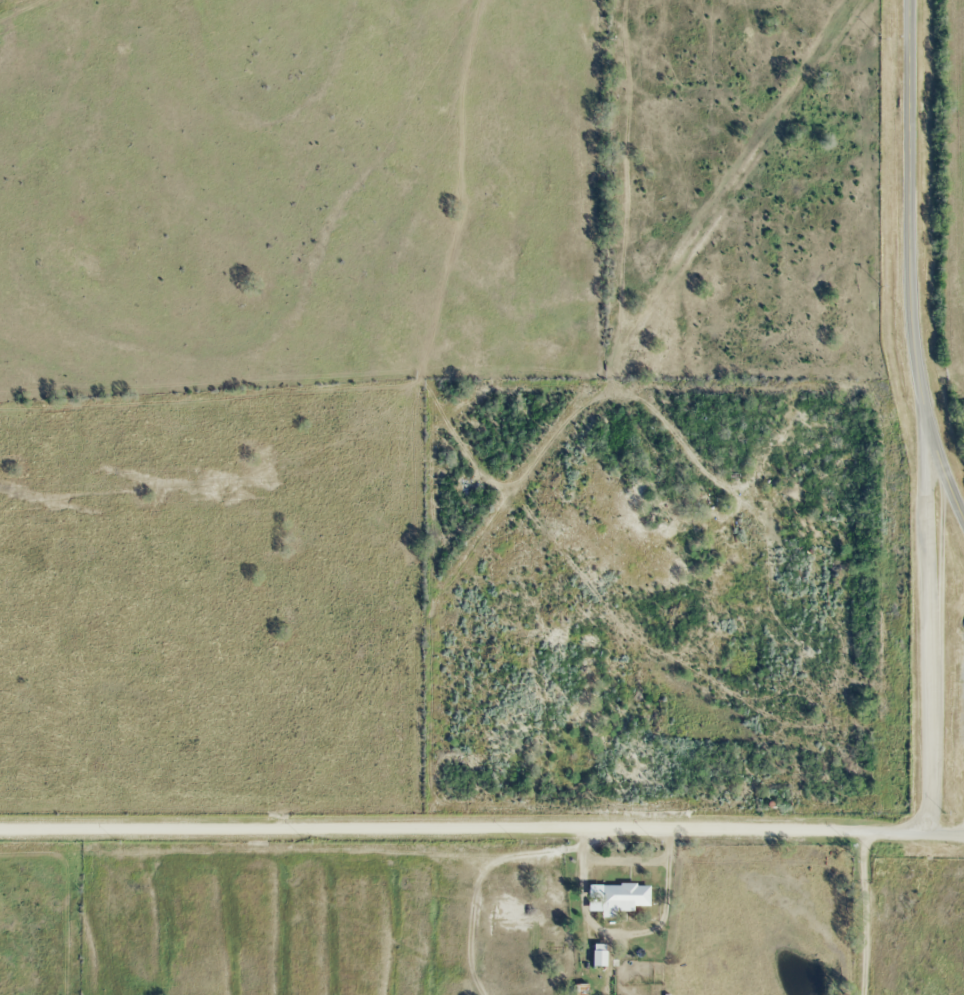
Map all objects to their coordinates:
road: (909, 264)
road: (926, 625)
road: (431, 826)
road: (913, 832)
building: (622, 896)
road: (862, 914)
building: (599, 952)

